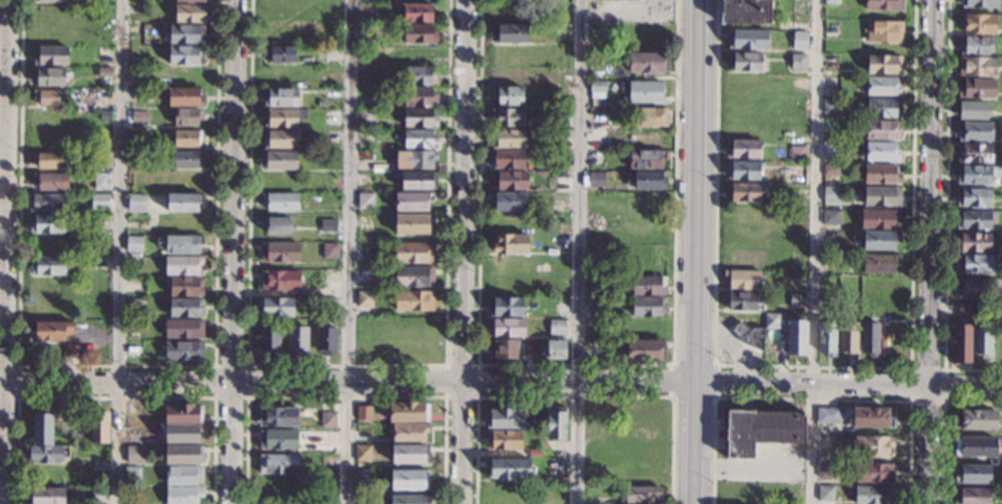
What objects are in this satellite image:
building: (52, 0)
building: (191, 0)
building: (624, 0)
building: (832, 2)
building: (978, 4)
building: (884, 5)
building: (367, 12)
building: (416, 12)
building: (512, 12)
building: (744, 12)
building: (191, 13)
building: (563, 13)
road: (625, 15)
building: (978, 24)
building: (884, 32)
building: (419, 34)
building: (510, 34)
building: (186, 35)
building: (746, 39)
building: (799, 40)
building: (976, 46)
building: (103, 54)
building: (281, 54)
building: (51, 56)
building: (185, 56)
building: (745, 62)
building: (798, 62)
building: (648, 63)
building: (883, 64)
building: (977, 67)
building: (104, 72)
building: (419, 76)
building: (49, 77)
building: (185, 77)
building: (281, 77)
building: (882, 86)
building: (977, 88)
building: (597, 90)
building: (645, 92)
building: (100, 94)
building: (49, 97)
building: (185, 97)
building: (419, 97)
building: (508, 97)
building: (281, 98)
building: (320, 104)
building: (829, 106)
building: (883, 108)
building: (977, 111)
building: (139, 115)
building: (185, 117)
building: (284, 117)
building: (365, 117)
building: (507, 117)
building: (649, 117)
building: (419, 118)
building: (882, 130)
building: (975, 132)
building: (187, 138)
building: (648, 138)
building: (281, 139)
building: (419, 139)
building: (510, 139)
building: (743, 149)
building: (829, 150)
road: (696, 151)
building: (881, 152)
road: (3, 153)
building: (797, 153)
building: (975, 153)
building: (595, 158)
building: (102, 159)
building: (508, 159)
building: (646, 159)
building: (51, 160)
building: (187, 160)
building: (279, 160)
building: (415, 160)
building: (744, 170)
building: (800, 171)
building: (830, 171)
building: (881, 174)
building: (974, 175)
building: (365, 180)
building: (596, 180)
building: (646, 180)
building: (800, 180)
building: (50, 181)
building: (101, 181)
building: (418, 181)
building: (510, 181)
building: (743, 192)
building: (830, 195)
building: (882, 196)
building: (974, 198)
building: (99, 200)
building: (364, 201)
building: (508, 201)
building: (184, 202)
building: (280, 202)
building: (412, 202)
building: (46, 203)
building: (136, 203)
road: (946, 212)
building: (830, 217)
building: (878, 218)
building: (976, 219)
building: (48, 224)
building: (412, 224)
building: (277, 225)
building: (327, 225)
building: (876, 240)
building: (974, 242)
building: (133, 244)
building: (179, 244)
building: (509, 244)
road: (118, 251)
road: (233, 251)
building: (329, 251)
road: (578, 251)
road: (4, 252)
building: (279, 252)
road: (349, 252)
building: (413, 252)
road: (464, 252)
road: (813, 252)
road: (930, 252)
building: (365, 253)
building: (879, 263)
building: (976, 264)
building: (183, 265)
building: (48, 266)
building: (413, 276)
building: (742, 279)
building: (280, 281)
building: (648, 286)
building: (186, 287)
building: (975, 288)
building: (364, 299)
building: (797, 300)
building: (413, 301)
building: (741, 301)
building: (135, 306)
building: (330, 306)
building: (648, 306)
building: (274, 307)
building: (506, 307)
building: (186, 308)
building: (964, 312)
building: (772, 321)
building: (556, 327)
building: (506, 328)
building: (183, 330)
building: (50, 331)
building: (750, 336)
building: (826, 338)
building: (847, 338)
building: (297, 339)
building: (796, 339)
building: (869, 339)
building: (998, 339)
building: (269, 340)
building: (326, 340)
building: (982, 341)
road: (695, 343)
building: (960, 344)
building: (503, 349)
building: (593, 349)
building: (554, 350)
building: (71, 351)
building: (184, 351)
building: (645, 351)
road: (675, 362)
road: (815, 364)
road: (247, 365)
road: (345, 365)
road: (476, 365)
road: (574, 365)
road: (115, 366)
road: (943, 367)
road: (347, 380)
road: (17, 381)
road: (848, 385)
road: (575, 396)
road: (115, 397)
road: (346, 397)
road: (811, 397)
building: (408, 412)
building: (183, 414)
building: (363, 414)
building: (827, 416)
building: (277, 417)
building: (505, 418)
building: (872, 418)
road: (694, 419)
building: (327, 420)
building: (974, 420)
road: (943, 422)
building: (556, 423)
building: (42, 427)
building: (99, 428)
building: (760, 430)
building: (183, 433)
building: (408, 433)
building: (277, 440)
building: (504, 440)
building: (873, 446)
building: (975, 447)
building: (362, 453)
building: (534, 453)
building: (47, 454)
building: (409, 454)
building: (133, 455)
building: (183, 455)
building: (277, 464)
parking lot: (769, 464)
road: (752, 467)
building: (508, 468)
building: (555, 471)
building: (825, 471)
building: (873, 472)
building: (972, 474)
building: (132, 475)
building: (184, 476)
building: (362, 478)
building: (409, 480)
road: (693, 480)
building: (825, 493)
building: (871, 494)
building: (183, 495)
building: (641, 495)
building: (45, 496)
building: (99, 496)
building: (971, 496)
building: (409, 499)

